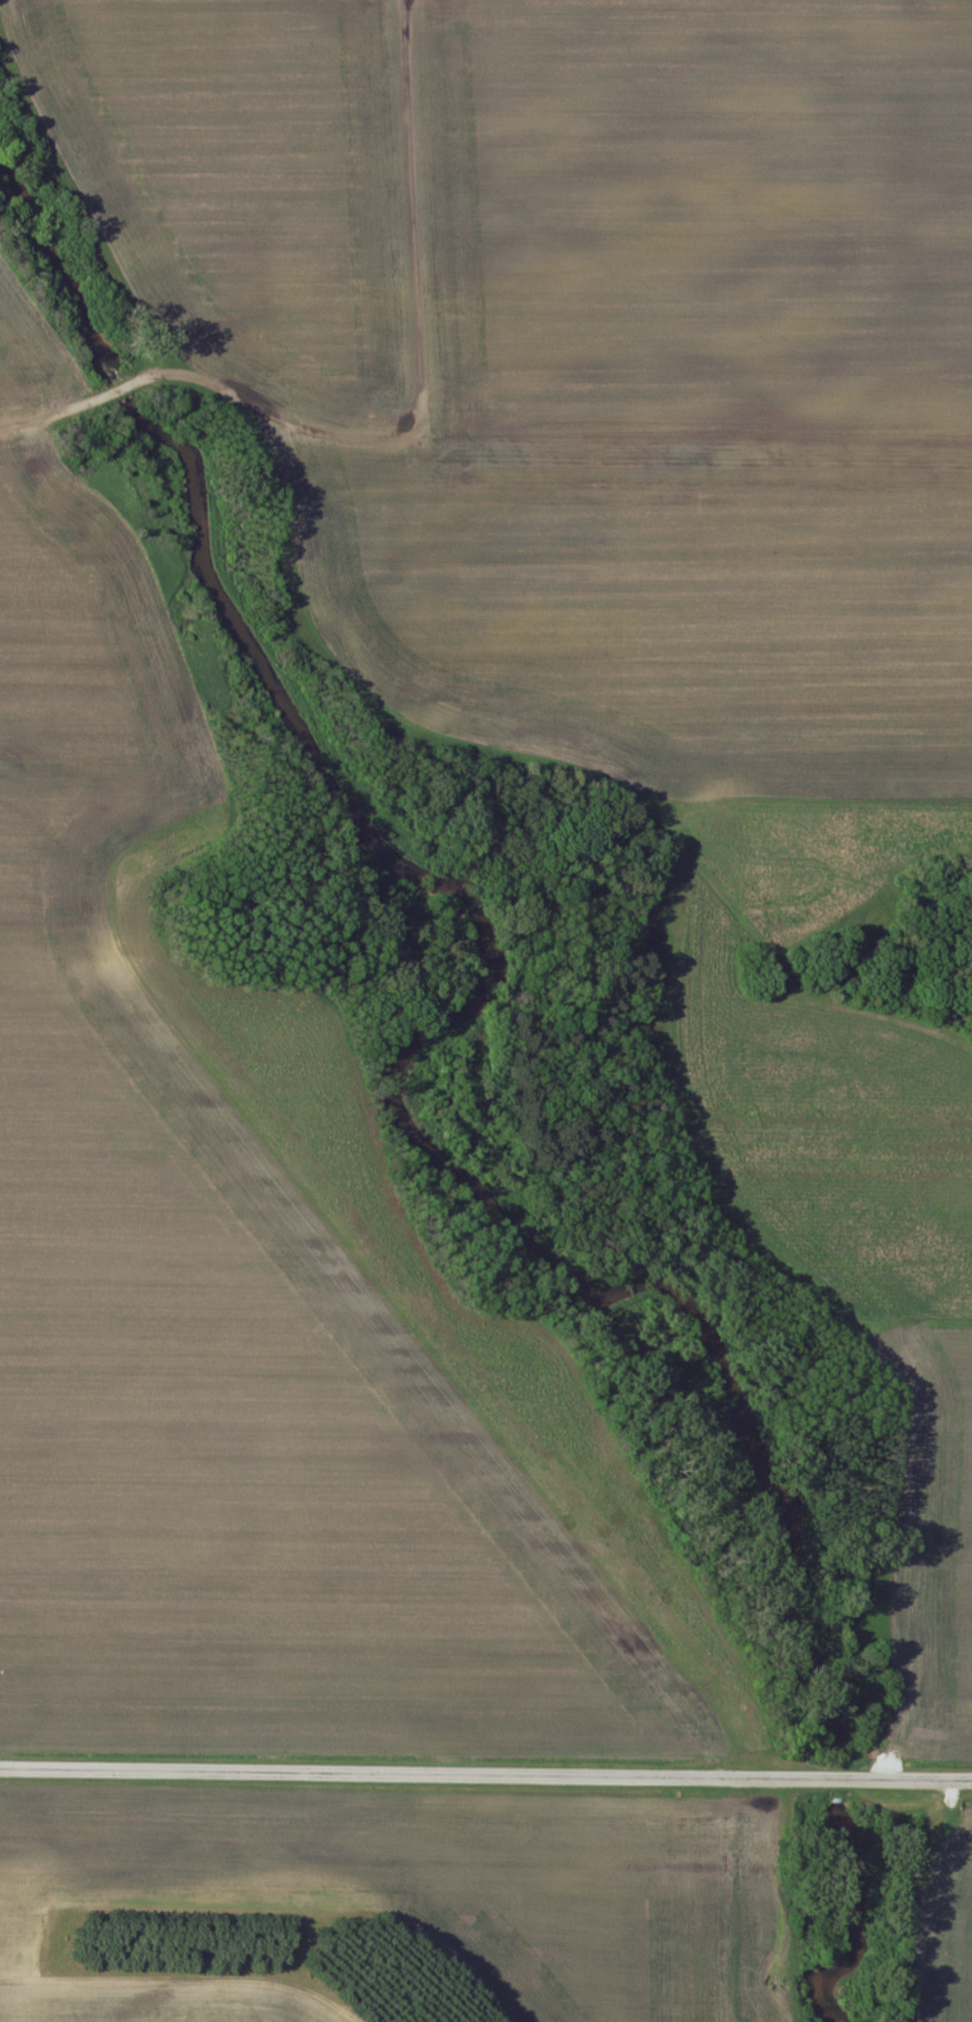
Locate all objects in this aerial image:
road: (486, 1777)

